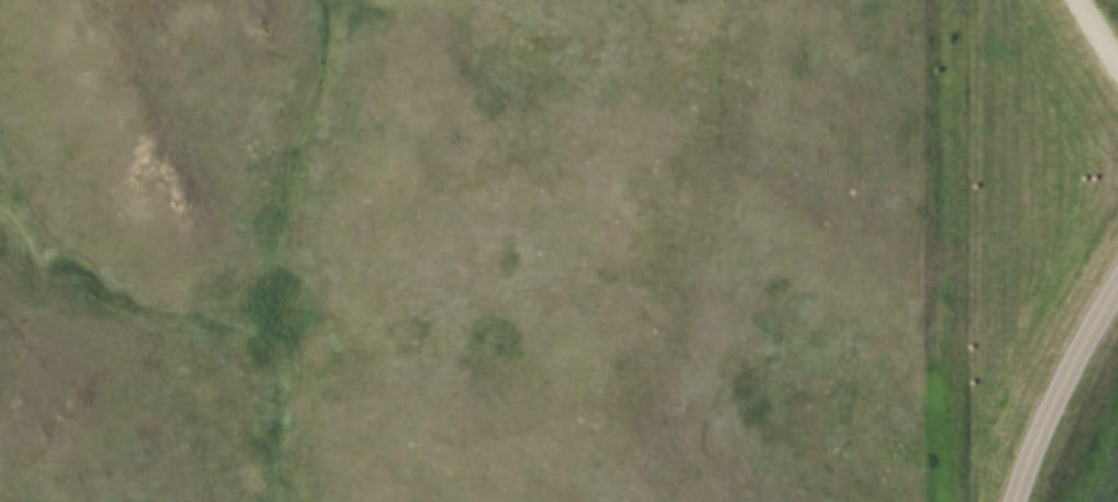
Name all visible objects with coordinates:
road: (1100, 26)
road: (1065, 394)

